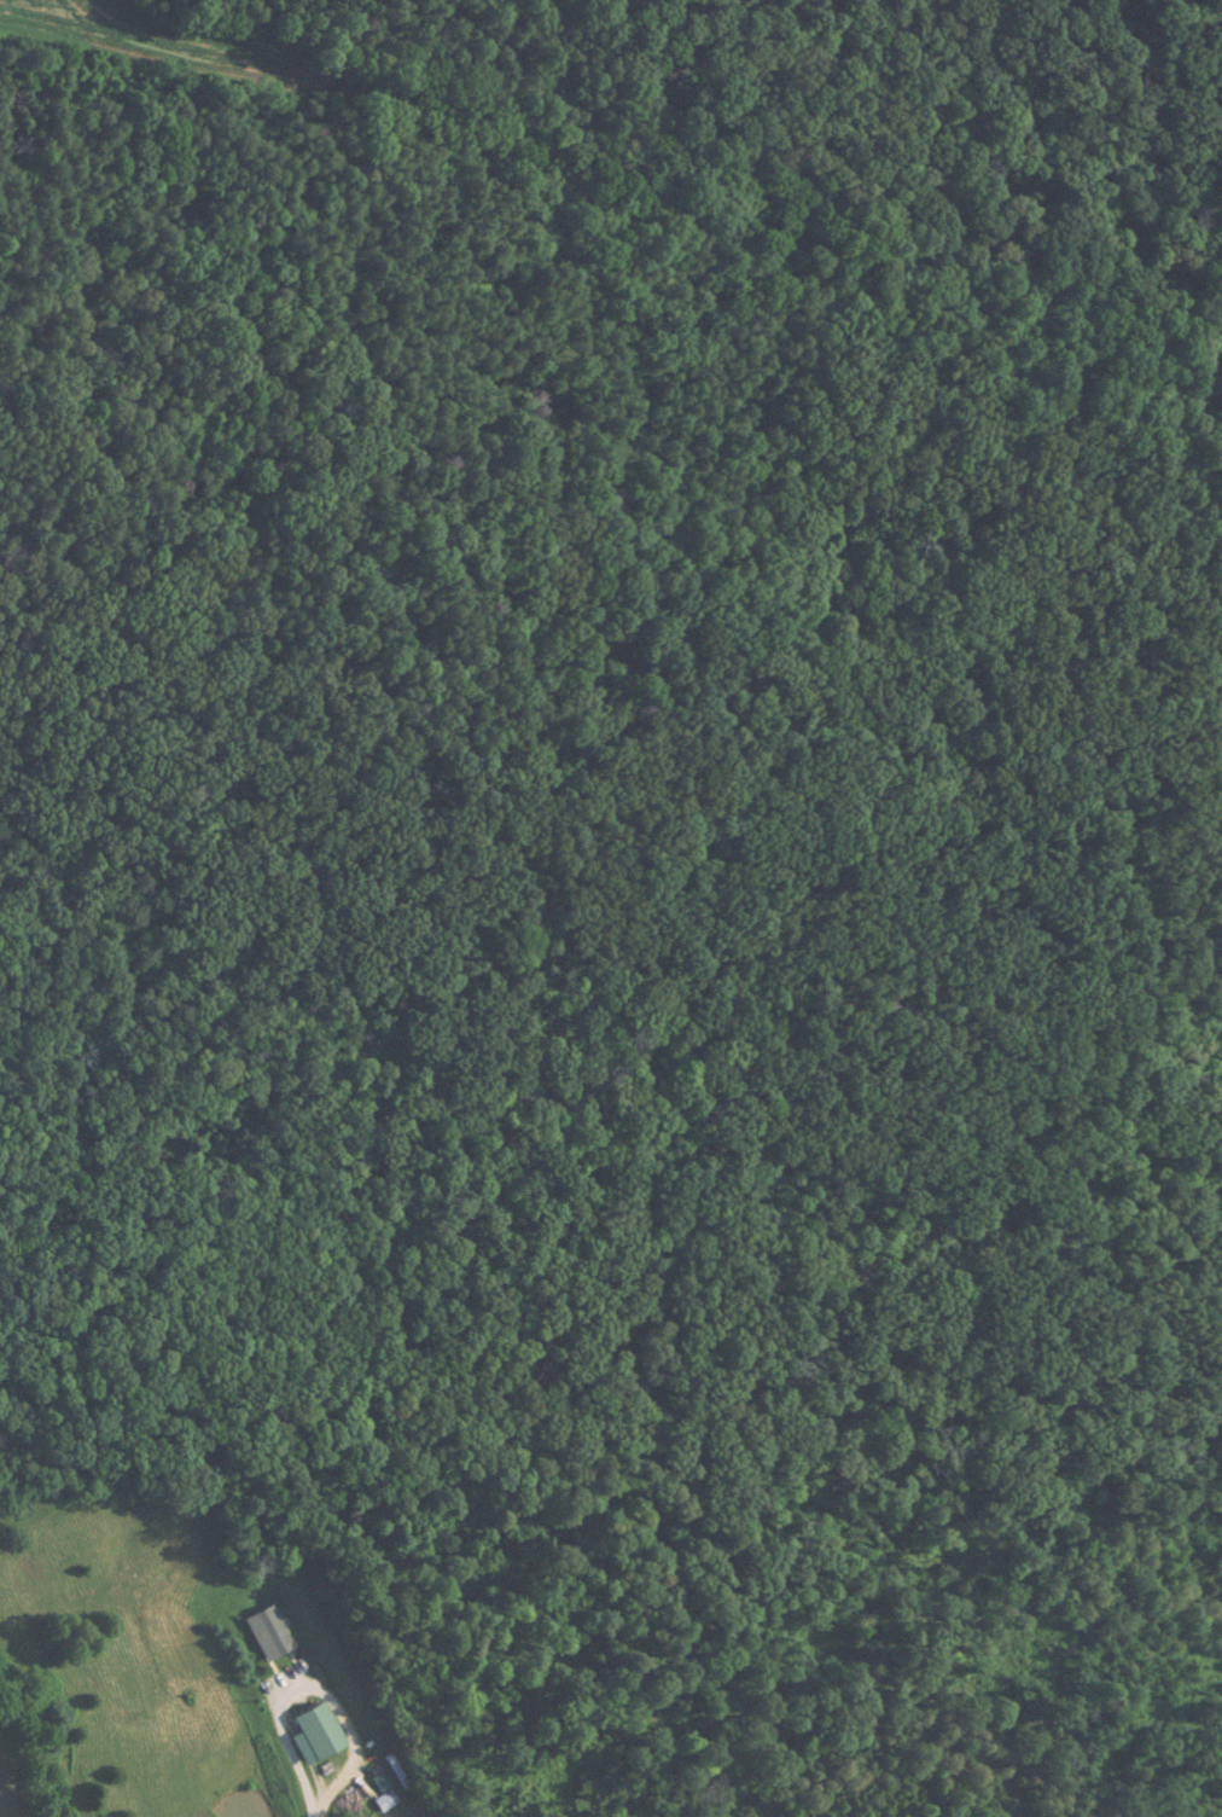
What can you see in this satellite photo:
building: (261, 1631)
building: (309, 1729)
building: (379, 1799)

